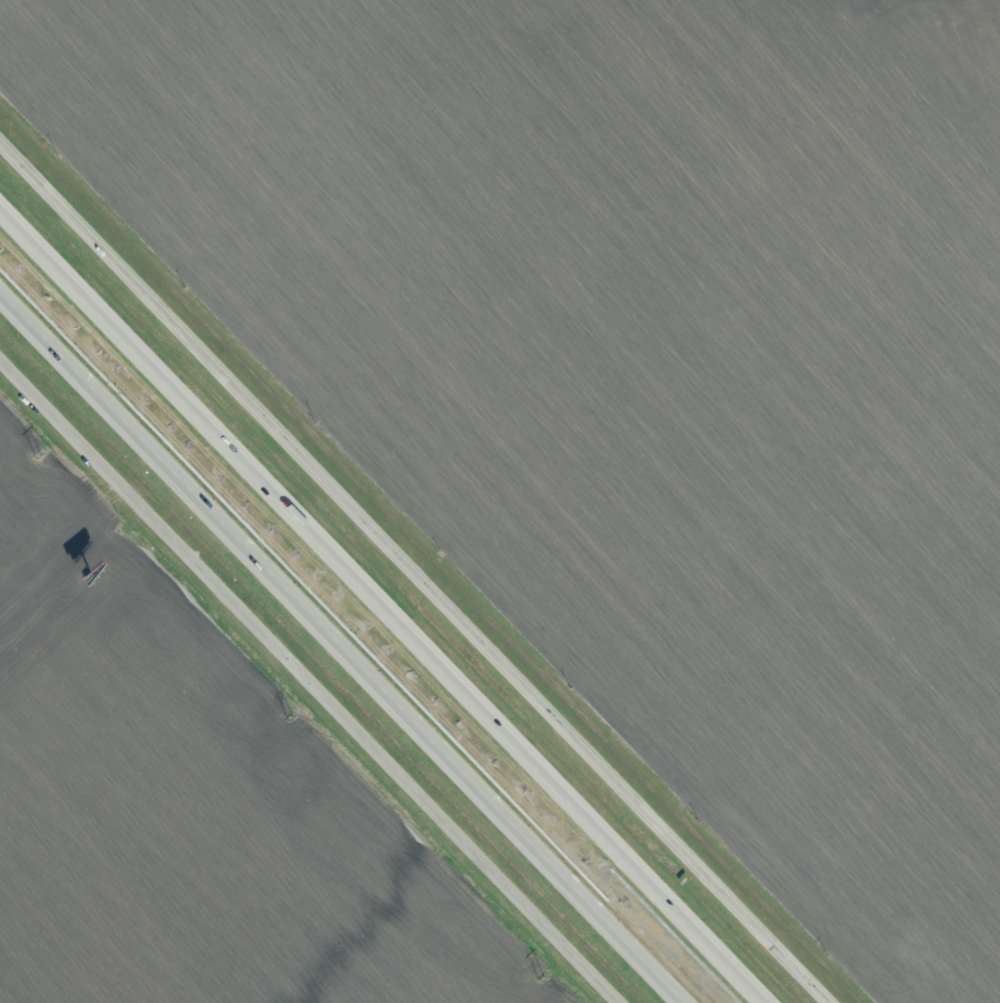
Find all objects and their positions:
power tower: (38, 455)
road: (414, 570)
road: (383, 605)
road: (342, 647)
road: (306, 683)
power tower: (291, 719)
power tower: (542, 980)

